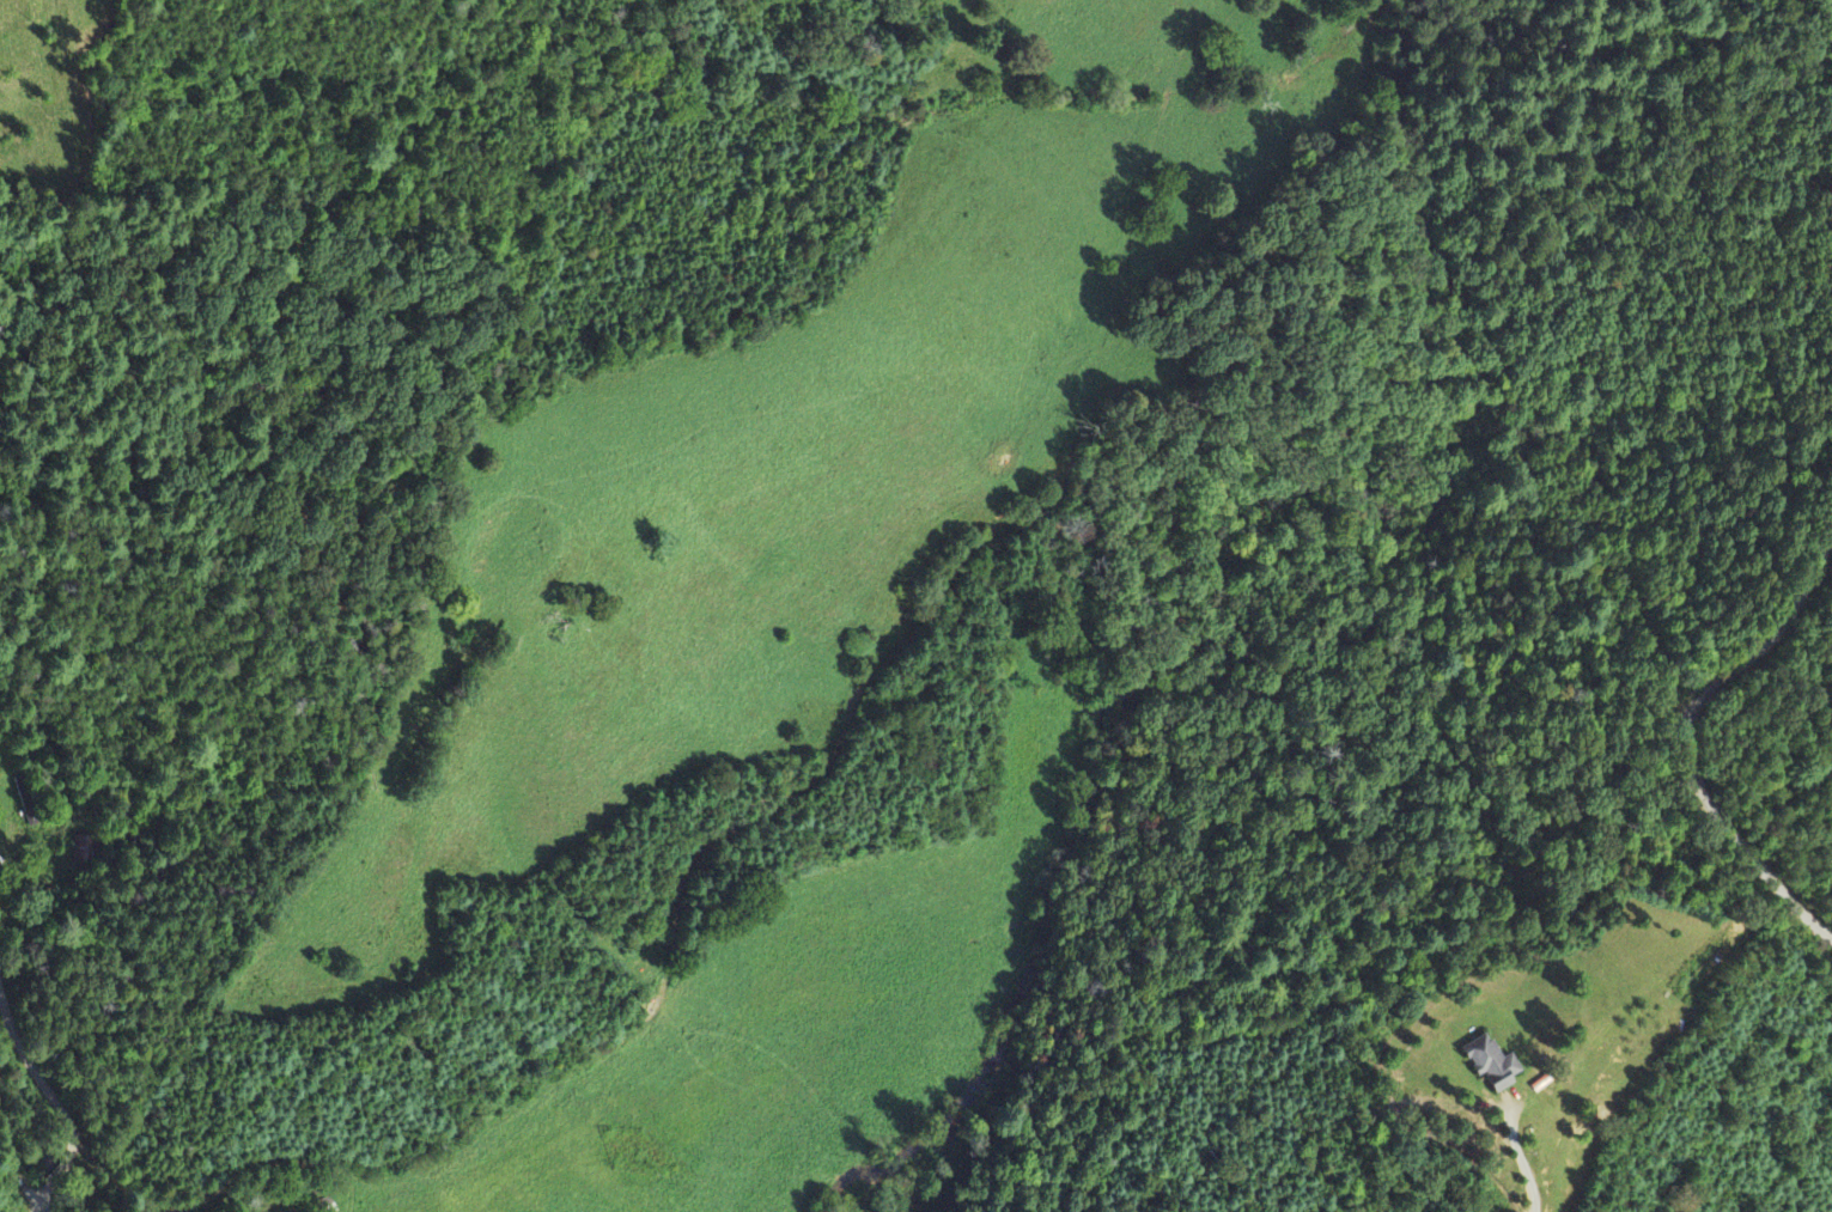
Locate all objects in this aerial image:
road: (1688, 735)
building: (1492, 1066)
road: (57, 1106)
road: (1522, 1162)
road: (42, 1207)

